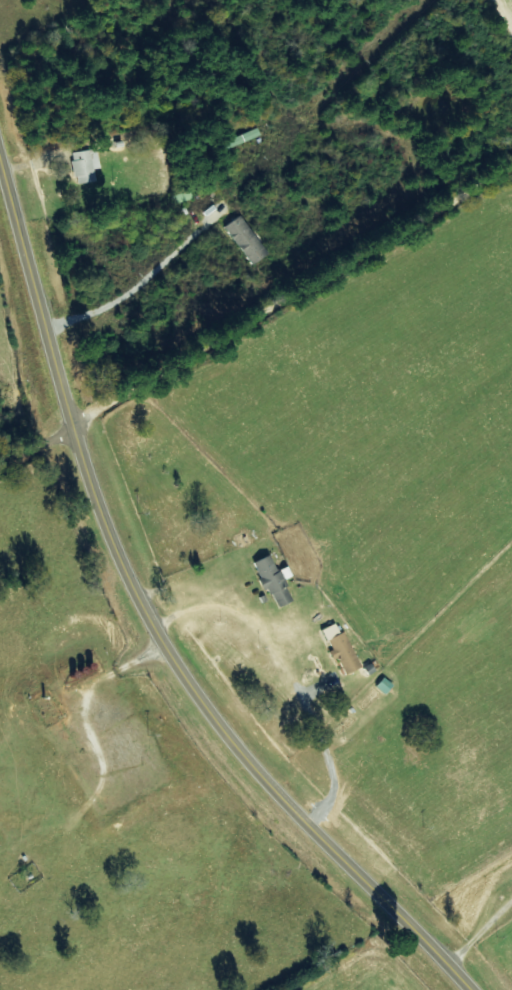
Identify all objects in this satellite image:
building: (85, 165)
building: (246, 240)
road: (290, 286)
road: (34, 441)
building: (275, 582)
road: (152, 623)
building: (342, 649)

